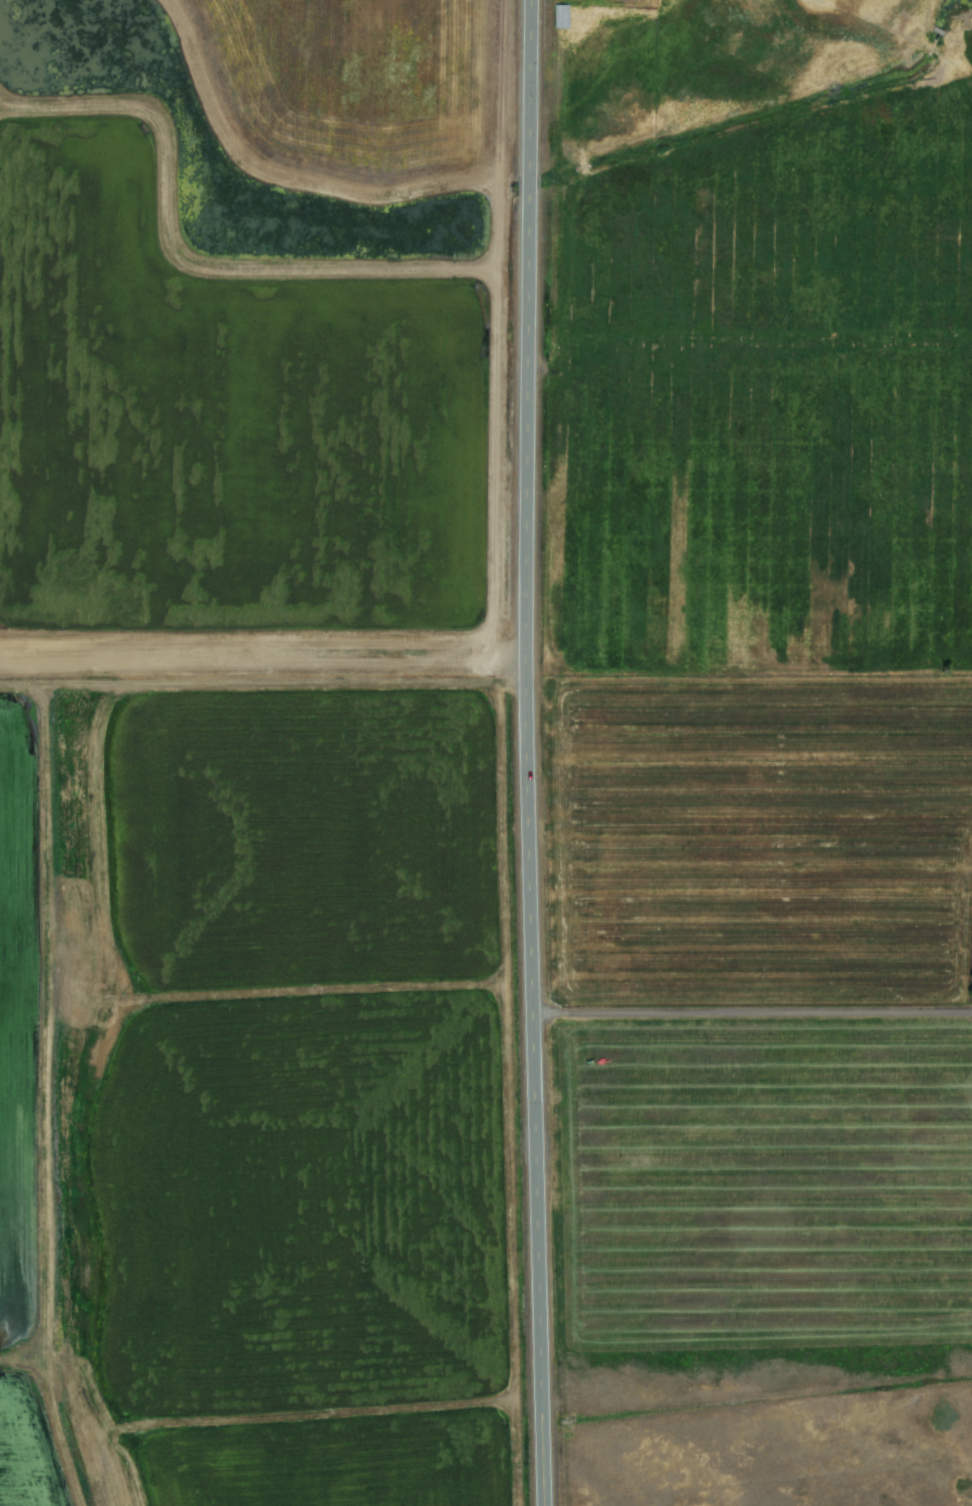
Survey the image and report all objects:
road: (527, 753)

